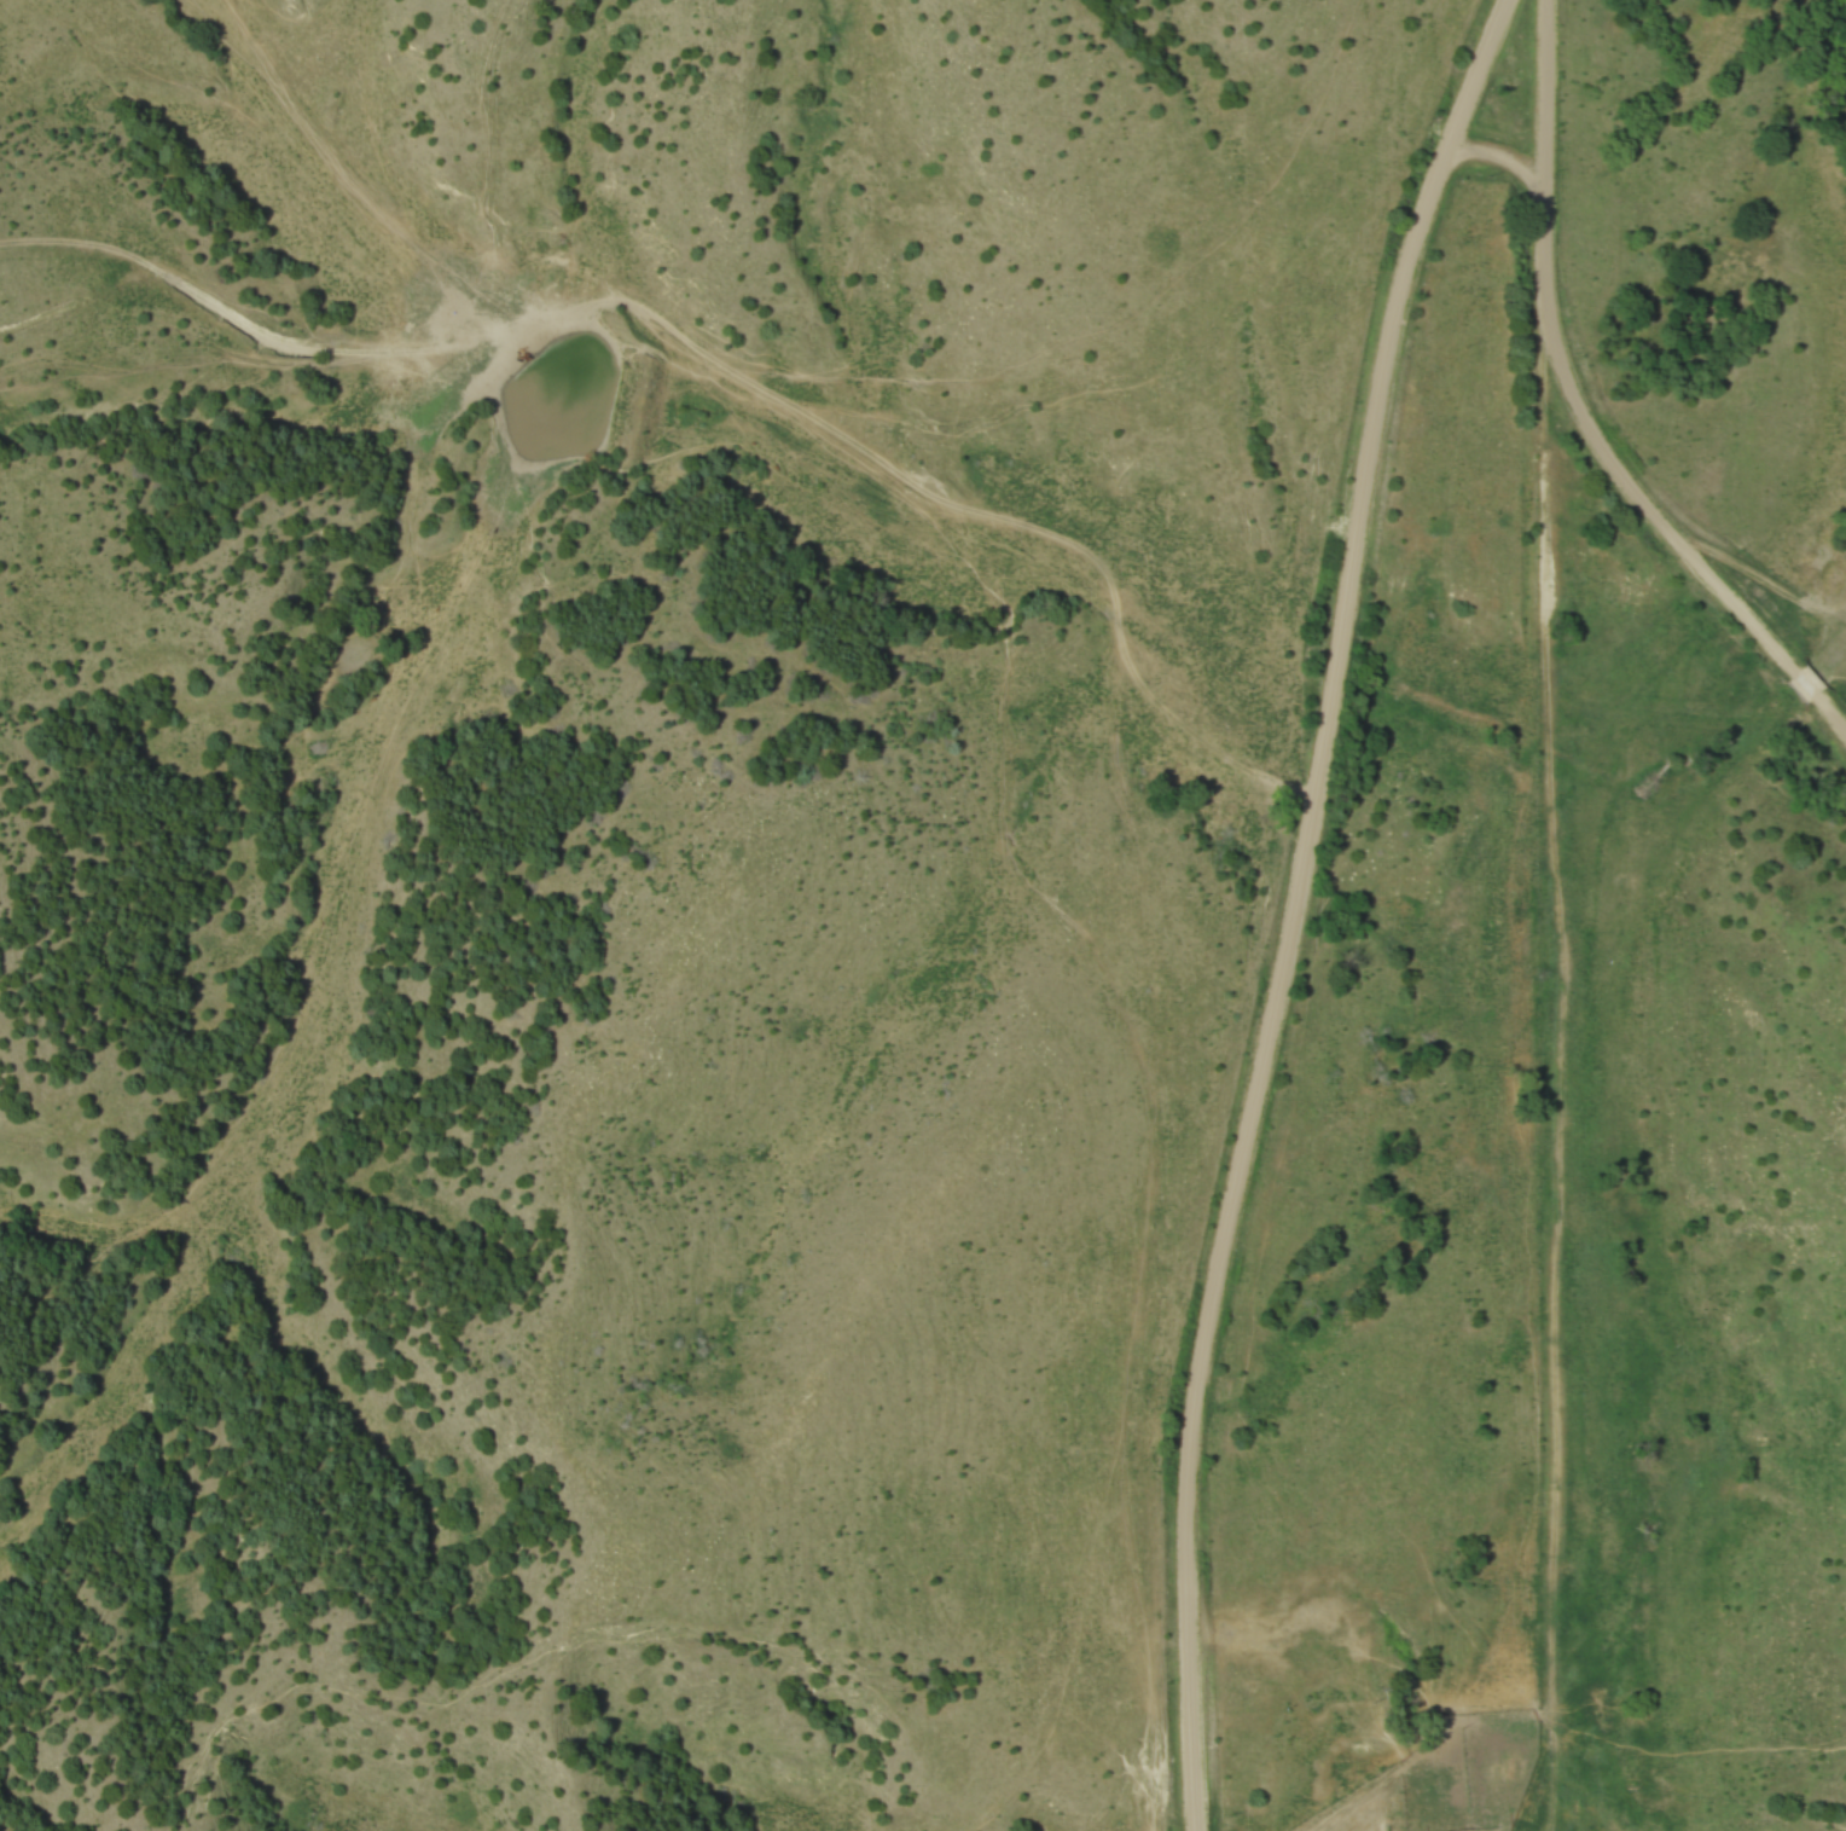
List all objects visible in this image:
road: (1493, 153)
road: (718, 361)
road: (1580, 413)
road: (1291, 906)

